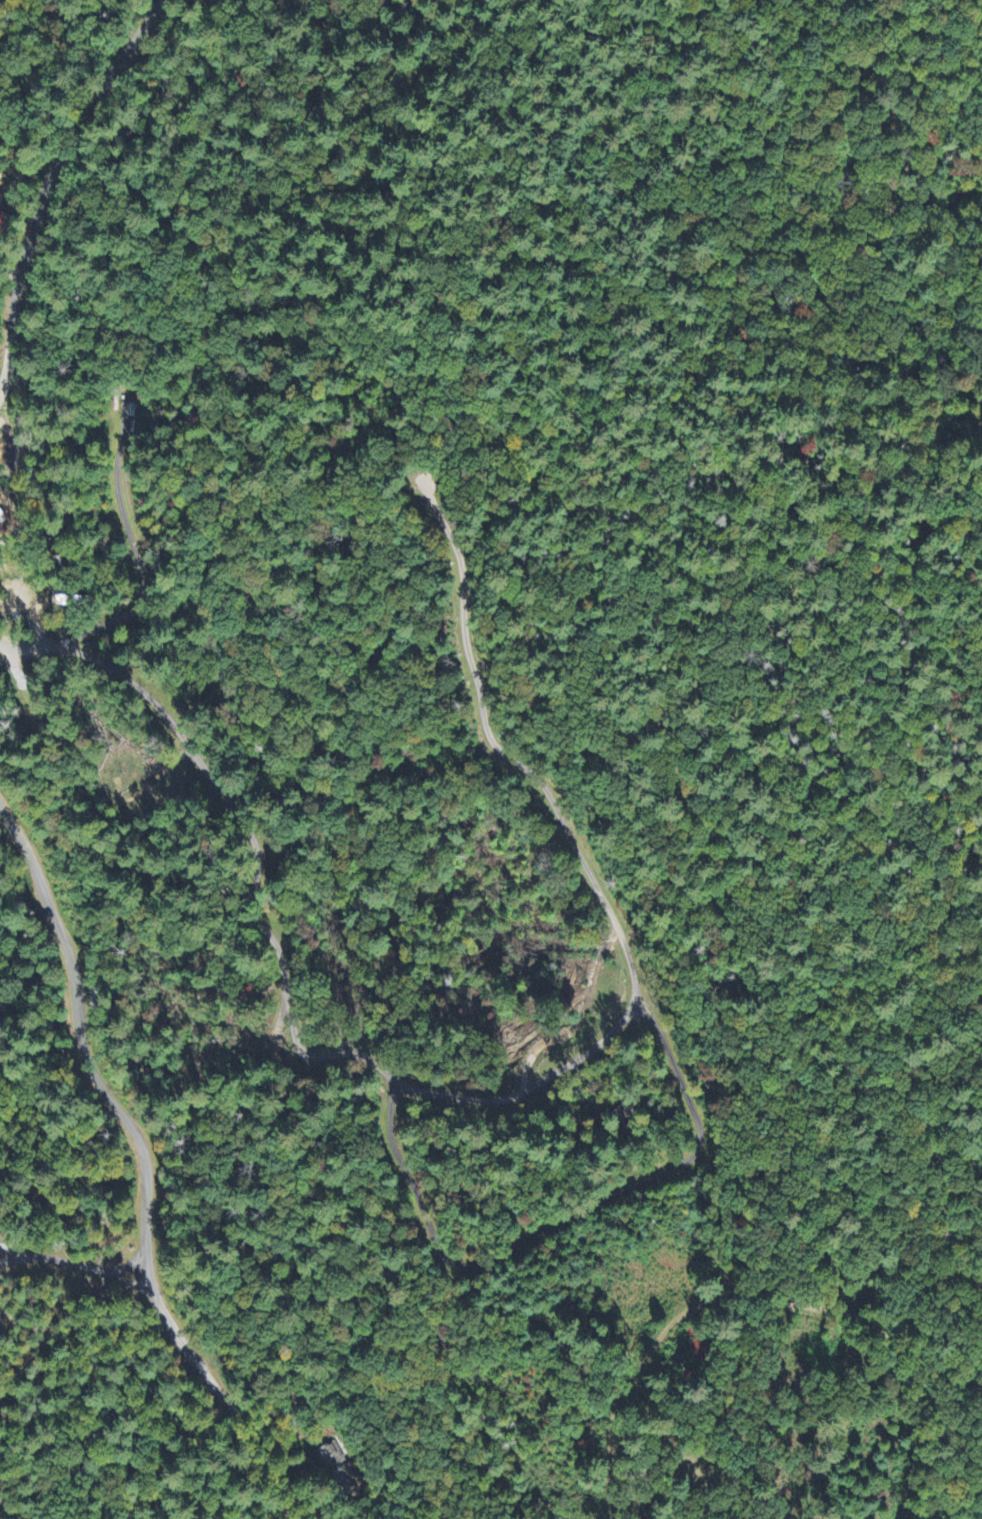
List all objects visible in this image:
road: (45, 183)
building: (1, 187)
road: (144, 1162)
road: (722, 1295)
building: (336, 1467)
road: (427, 1498)

